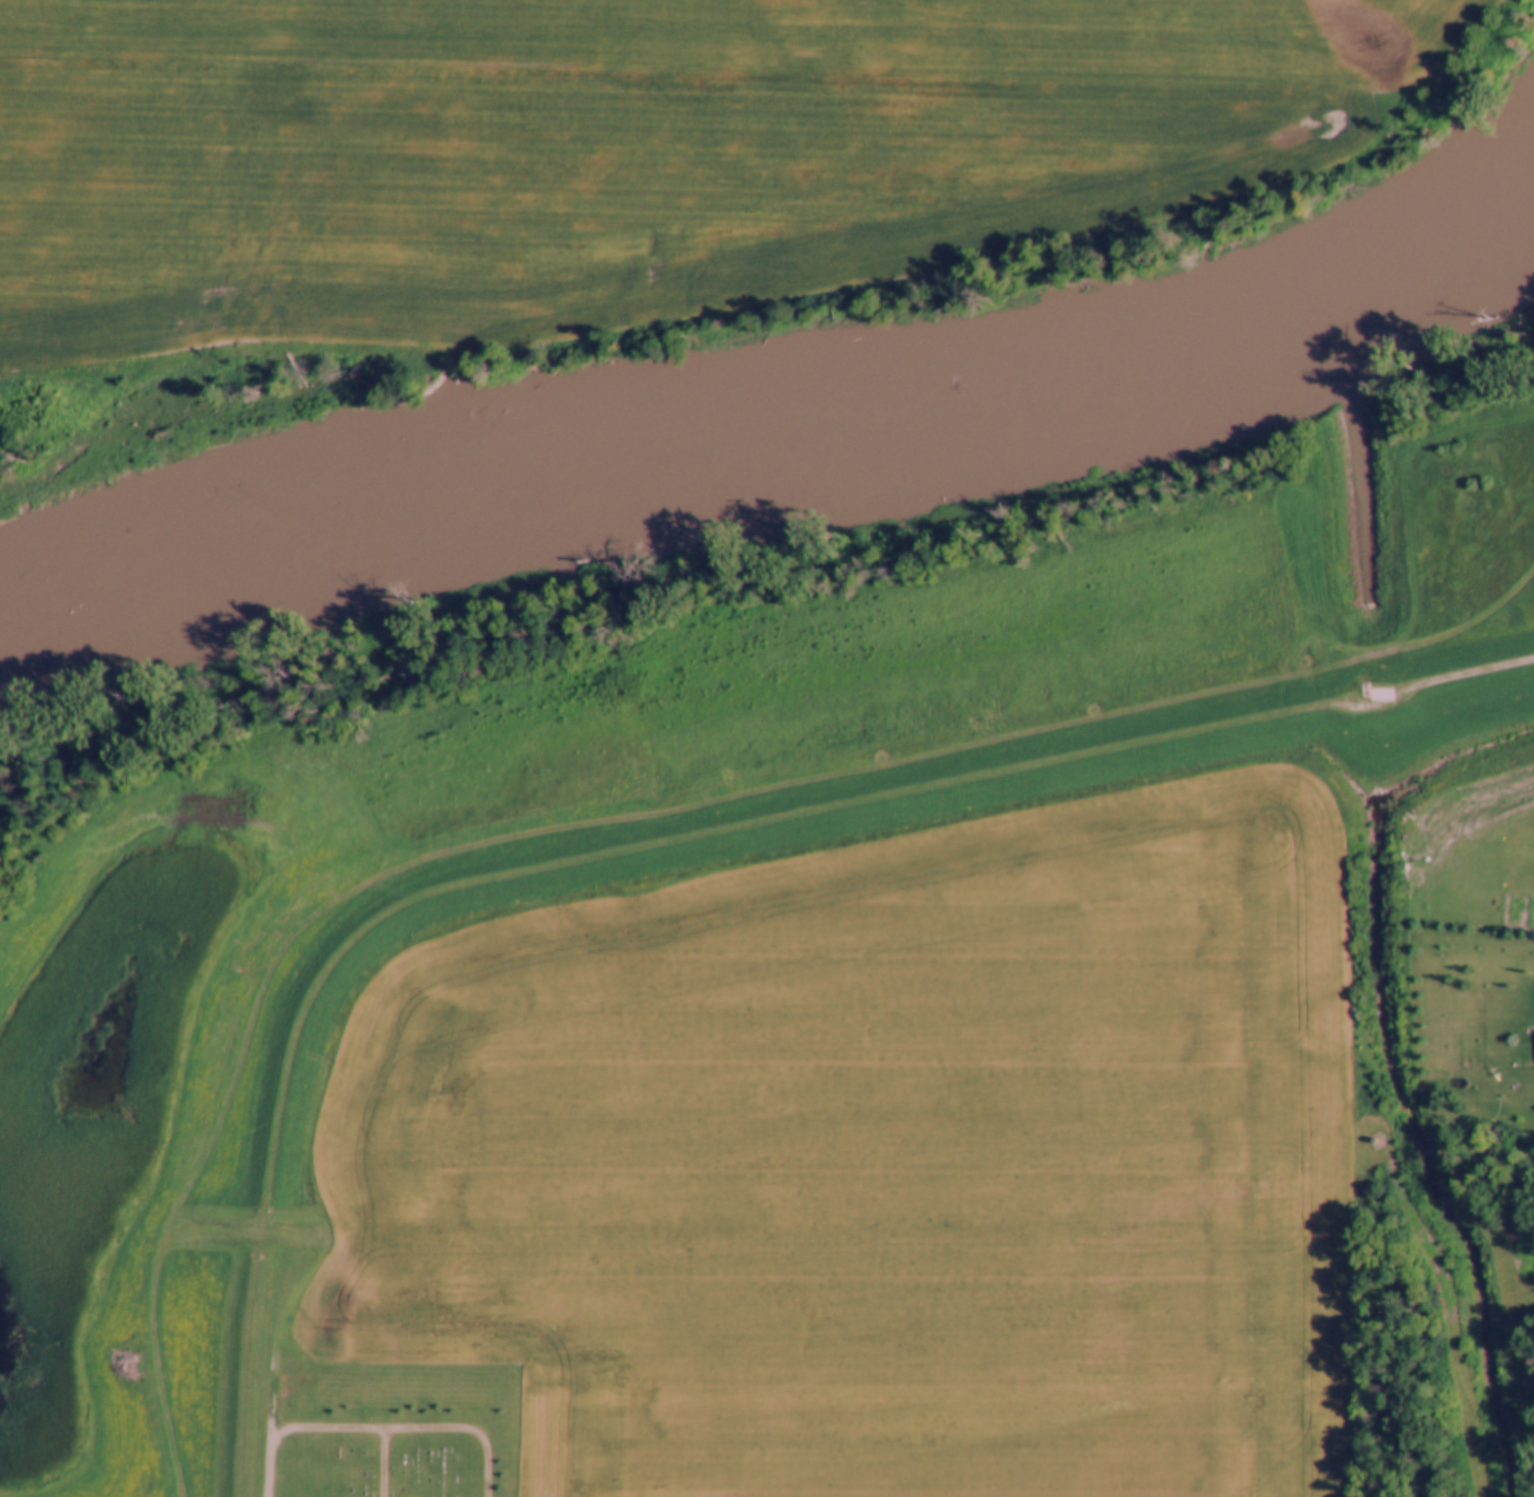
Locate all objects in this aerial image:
river: (786, 446)
building: (1533, 1259)
park: (392, 1425)
road: (267, 1459)

